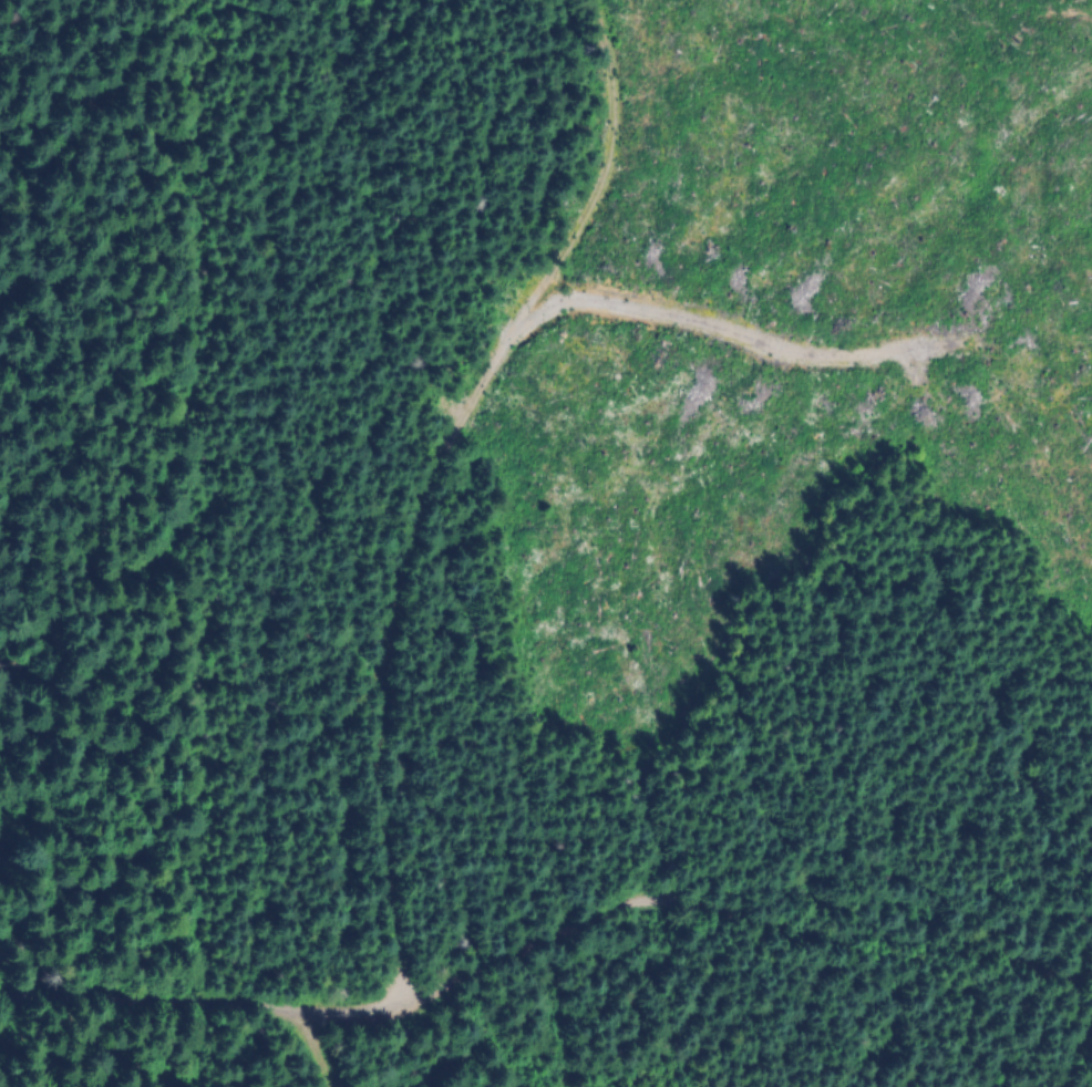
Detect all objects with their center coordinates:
road: (545, 941)

